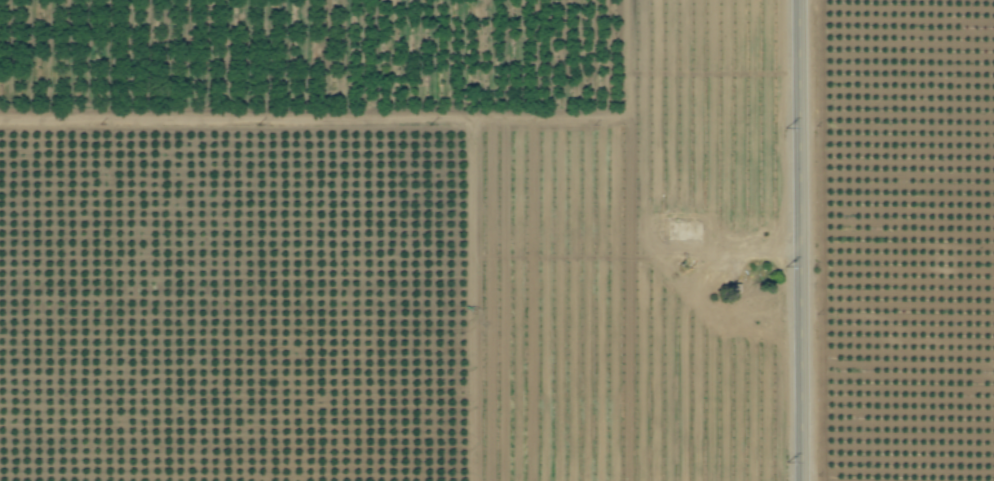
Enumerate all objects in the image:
building: (686, 230)
road: (795, 240)

